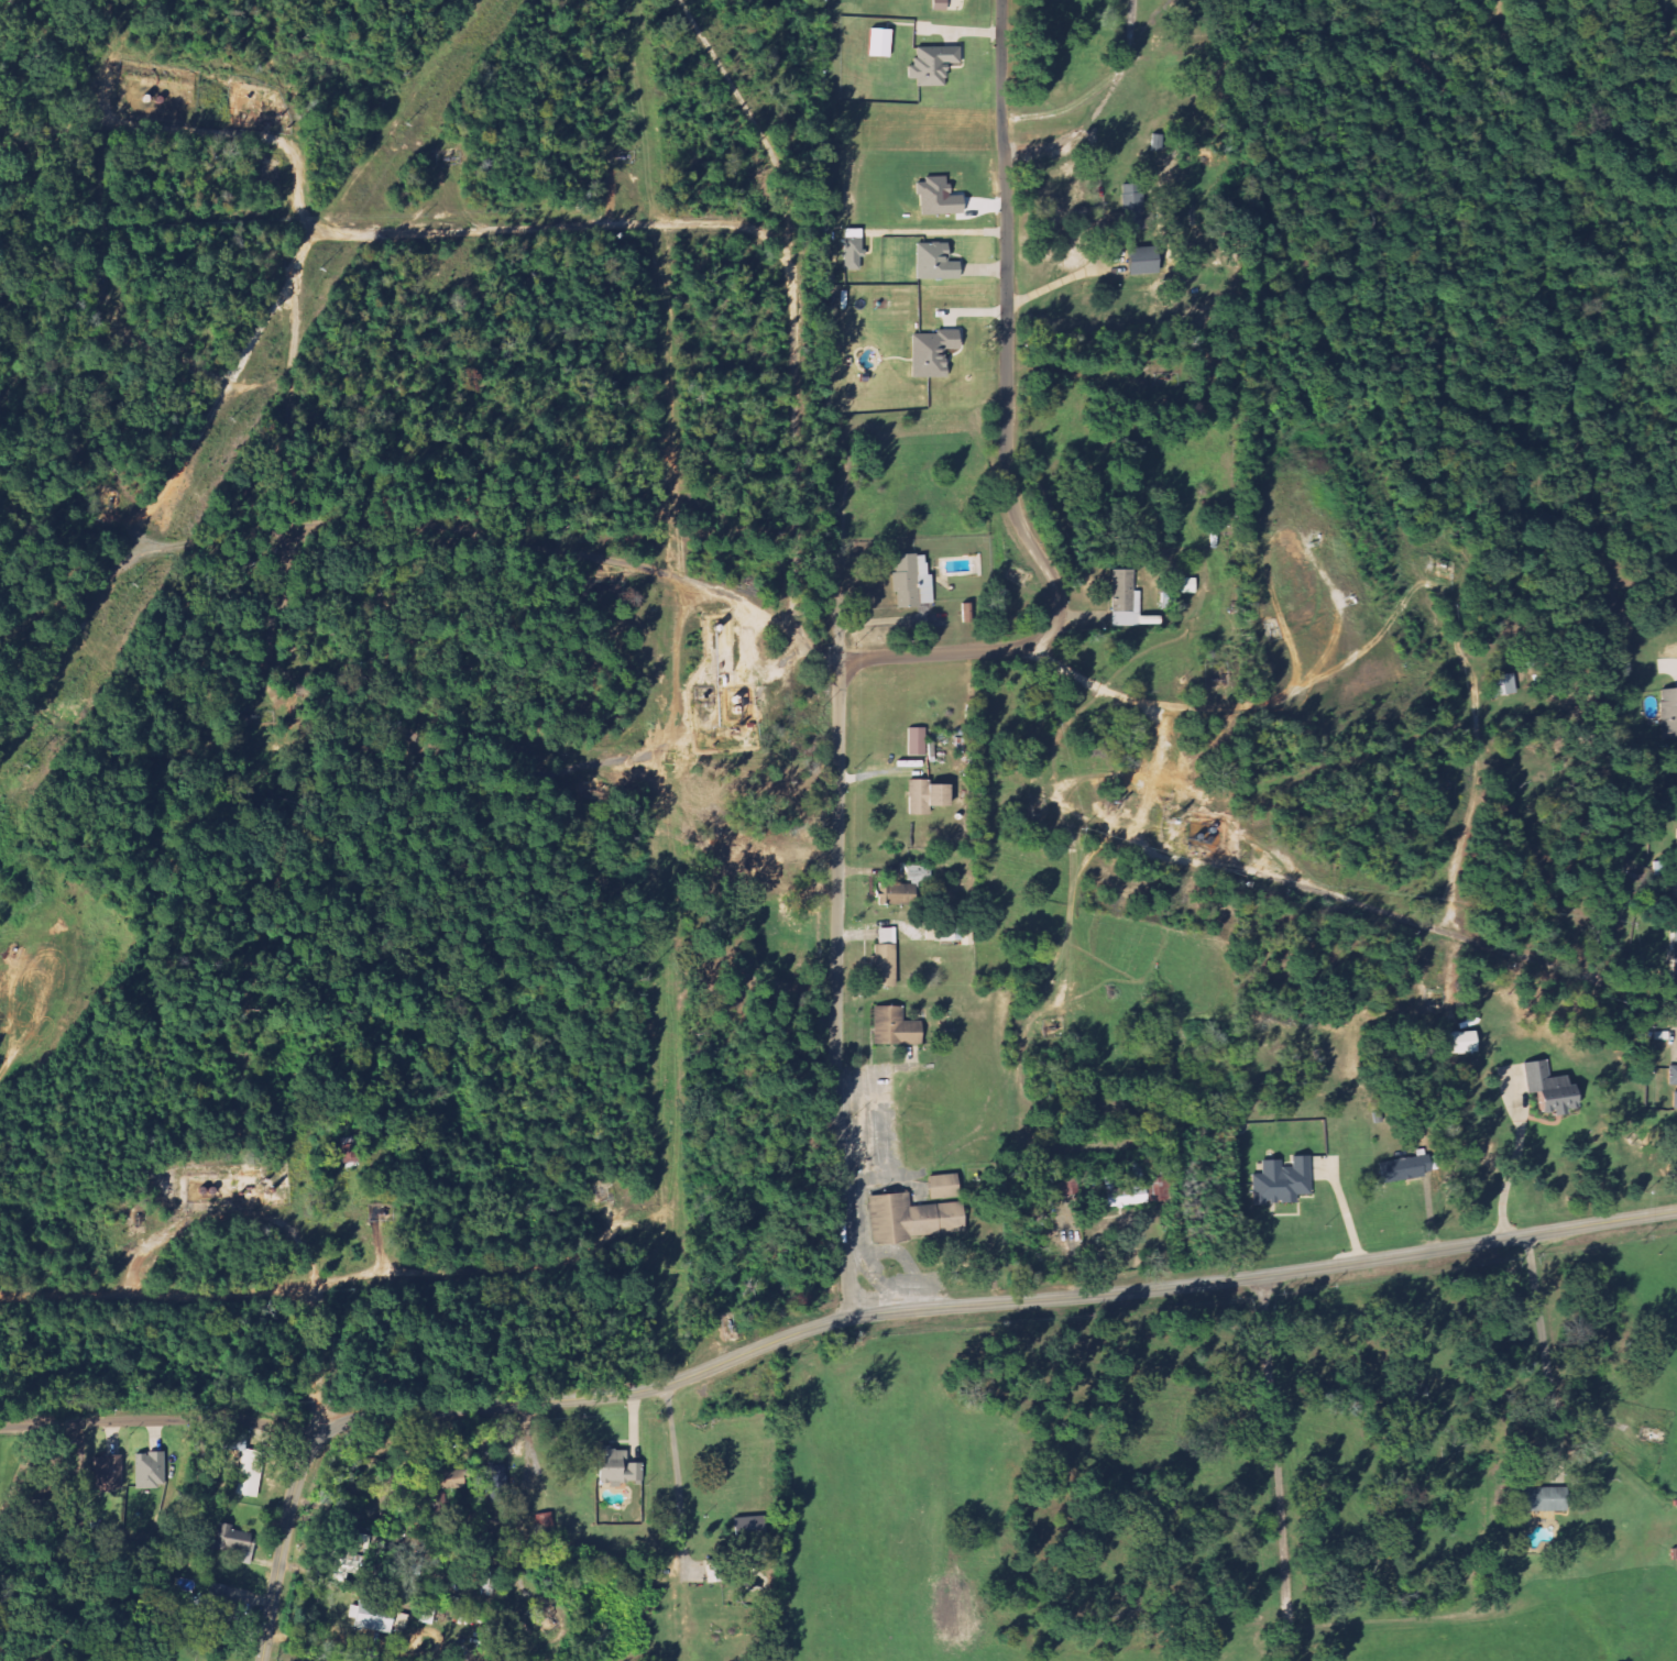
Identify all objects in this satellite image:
building: (939, 2)
building: (878, 43)
building: (931, 65)
road: (1104, 86)
road: (1556, 118)
road: (756, 121)
building: (941, 198)
building: (1135, 212)
road: (359, 232)
building: (856, 254)
building: (1149, 261)
building: (940, 264)
road: (1059, 282)
building: (936, 353)
road: (1011, 433)
road: (820, 458)
building: (914, 583)
building: (1127, 601)
building: (741, 707)
building: (1670, 712)
building: (919, 743)
road: (1481, 769)
building: (930, 798)
road: (1290, 888)
building: (897, 893)
building: (889, 959)
road: (843, 988)
building: (899, 1028)
building: (1675, 1087)
building: (1556, 1091)
road: (1516, 1157)
building: (1410, 1169)
building: (1285, 1181)
building: (946, 1187)
building: (918, 1220)
road: (834, 1321)
road: (330, 1353)
building: (250, 1466)
building: (621, 1469)
road: (1278, 1469)
building: (152, 1471)
building: (110, 1474)
building: (1537, 1499)
building: (754, 1537)
road: (294, 1539)
building: (241, 1547)
building: (1676, 1555)
building: (716, 1572)
building: (377, 1618)

